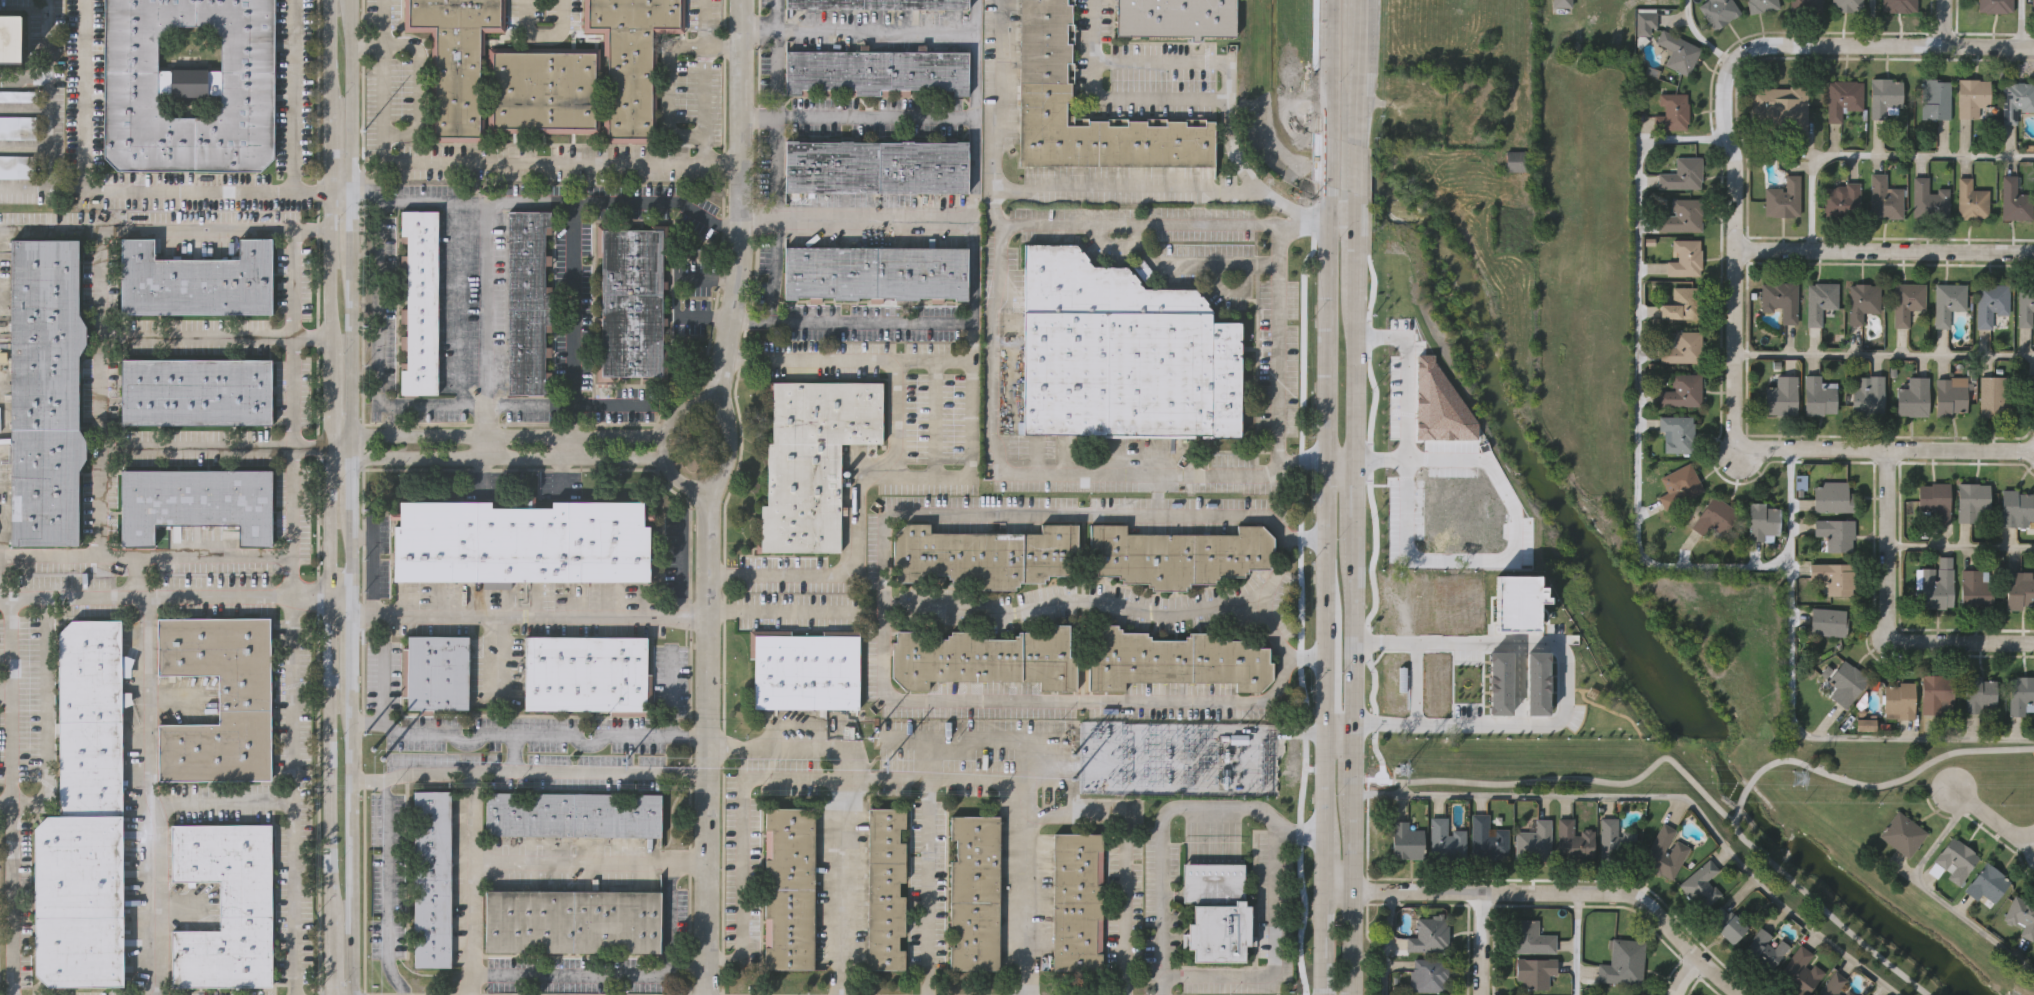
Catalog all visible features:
building: (1561, 3)
building: (876, 4)
building: (1760, 5)
building: (1804, 5)
building: (1845, 5)
building: (1898, 5)
building: (2032, 5)
building: (1994, 6)
building: (1718, 11)
road: (1355, 13)
building: (1173, 18)
road: (1872, 22)
road: (1942, 22)
building: (1643, 23)
road: (2022, 23)
road: (876, 29)
road: (545, 35)
road: (1700, 37)
road: (777, 40)
building: (9, 41)
road: (703, 43)
road: (363, 45)
road: (1354, 50)
building: (1677, 52)
building: (455, 58)
building: (630, 59)
road: (1181, 62)
road: (1326, 66)
building: (876, 70)
building: (1046, 75)
road: (23, 82)
building: (188, 88)
building: (543, 91)
road: (291, 96)
road: (378, 96)
building: (18, 97)
parking lot: (18, 97)
building: (1884, 97)
road: (1724, 98)
building: (1842, 98)
building: (1971, 98)
building: (1934, 99)
building: (2016, 101)
road: (1190, 108)
road: (1353, 108)
building: (1781, 108)
road: (974, 109)
building: (1672, 113)
road: (47, 115)
road: (874, 116)
road: (758, 119)
road: (775, 122)
building: (18, 127)
parking lot: (18, 127)
road: (675, 133)
road: (1880, 156)
building: (1517, 161)
road: (1326, 163)
road: (540, 164)
road: (709, 164)
building: (16, 165)
parking lot: (16, 165)
building: (876, 167)
road: (1352, 172)
building: (1682, 175)
road: (63, 184)
road: (1122, 188)
road: (94, 191)
road: (335, 191)
road: (308, 192)
road: (742, 196)
building: (1883, 198)
road: (618, 199)
building: (1783, 199)
building: (1841, 200)
building: (1928, 200)
building: (1971, 201)
building: (2014, 201)
road: (776, 208)
building: (1681, 215)
road: (1158, 226)
road: (1339, 226)
road: (162, 227)
road: (1131, 235)
road: (487, 247)
road: (1884, 249)
building: (1685, 256)
road: (1351, 257)
road: (1173, 264)
building: (876, 272)
road: (973, 273)
building: (197, 278)
road: (101, 283)
road: (677, 292)
building: (1781, 298)
building: (1821, 299)
building: (1863, 299)
building: (1907, 300)
building: (1949, 300)
building: (1681, 301)
building: (1991, 302)
road: (459, 303)
building: (526, 303)
road: (571, 303)
building: (630, 303)
building: (418, 304)
building: (2025, 304)
road: (309, 336)
road: (972, 338)
road: (1279, 344)
building: (1682, 346)
road: (378, 351)
road: (99, 353)
building: (1120, 354)
road: (1883, 356)
building: (2030, 382)
road: (1351, 386)
road: (1638, 387)
building: (198, 389)
building: (1681, 392)
building: (47, 394)
building: (1994, 394)
building: (1951, 395)
building: (1782, 396)
building: (1868, 396)
road: (1403, 397)
building: (1819, 397)
building: (1912, 397)
road: (1324, 398)
road: (543, 405)
road: (624, 405)
road: (991, 409)
road: (892, 415)
building: (1677, 433)
road: (493, 434)
road: (662, 443)
road: (196, 444)
road: (310, 444)
road: (487, 445)
road: (570, 445)
road: (1884, 448)
road: (736, 452)
road: (492, 456)
building: (814, 458)
road: (969, 467)
building: (1679, 485)
building: (1833, 496)
road: (327, 497)
road: (350, 497)
building: (1935, 500)
building: (1973, 500)
building: (196, 505)
building: (2017, 507)
road: (1350, 513)
building: (1714, 517)
building: (1762, 522)
building: (1836, 533)
road: (362, 535)
road: (295, 538)
building: (522, 542)
road: (1960, 549)
building: (984, 556)
building: (1179, 556)
road: (678, 559)
road: (374, 570)
road: (291, 572)
road: (140, 574)
building: (1831, 577)
building: (1937, 585)
road: (340, 586)
road: (165, 588)
building: (1976, 589)
building: (2018, 591)
road: (1265, 595)
road: (1075, 599)
building: (1407, 601)
building: (1456, 603)
building: (1515, 604)
road: (528, 606)
road: (774, 608)
road: (1886, 615)
road: (884, 618)
building: (1829, 623)
building: (1400, 631)
road: (1350, 643)
building: (985, 659)
building: (1175, 661)
building: (806, 667)
road: (1324, 670)
building: (439, 672)
building: (588, 674)
road: (1567, 676)
building: (1394, 681)
building: (1431, 682)
road: (4, 683)
building: (1497, 683)
building: (1847, 683)
building: (1534, 684)
building: (1938, 693)
building: (1979, 693)
building: (2021, 694)
road: (145, 695)
road: (668, 698)
building: (220, 701)
building: (1899, 701)
building: (1412, 707)
road: (1792, 709)
building: (1551, 711)
road: (366, 721)
road: (1350, 729)
road: (1337, 737)
road: (484, 738)
road: (907, 742)
road: (979, 744)
road: (788, 745)
road: (706, 754)
road: (512, 756)
power substation: (1173, 758)
road: (741, 763)
road: (1676, 764)
power tower: (1403, 770)
road: (547, 774)
road: (930, 778)
road: (1064, 778)
power tower: (1798, 779)
road: (1324, 783)
road: (1895, 786)
road: (291, 791)
road: (9, 792)
road: (1661, 797)
road: (1744, 800)
road: (5, 802)
building: (574, 814)
road: (1160, 817)
road: (1993, 817)
building: (83, 819)
road: (470, 819)
road: (159, 828)
building: (1903, 833)
building: (1446, 839)
building: (1487, 839)
building: (1406, 840)
building: (1534, 840)
building: (1574, 840)
building: (1615, 842)
building: (1664, 854)
road: (1324, 860)
building: (1956, 860)
road: (522, 862)
road: (1349, 866)
road: (387, 868)
building: (432, 877)
building: (1700, 884)
building: (1988, 885)
road: (838, 886)
road: (928, 886)
building: (791, 887)
building: (886, 890)
road: (1553, 892)
building: (975, 894)
road: (1935, 899)
building: (1077, 902)
road: (1029, 903)
building: (224, 905)
building: (1217, 912)
road: (667, 916)
building: (2021, 916)
building: (573, 920)
building: (1728, 926)
building: (1429, 935)
building: (1531, 938)
road: (1322, 942)
road: (1387, 942)
road: (1481, 943)
road: (1577, 944)
building: (1766, 948)
road: (1274, 954)
building: (1624, 963)
building: (1534, 972)
building: (1800, 972)
building: (1430, 974)
road: (1684, 975)
road: (587, 976)
building: (1833, 984)
building: (1849, 993)

